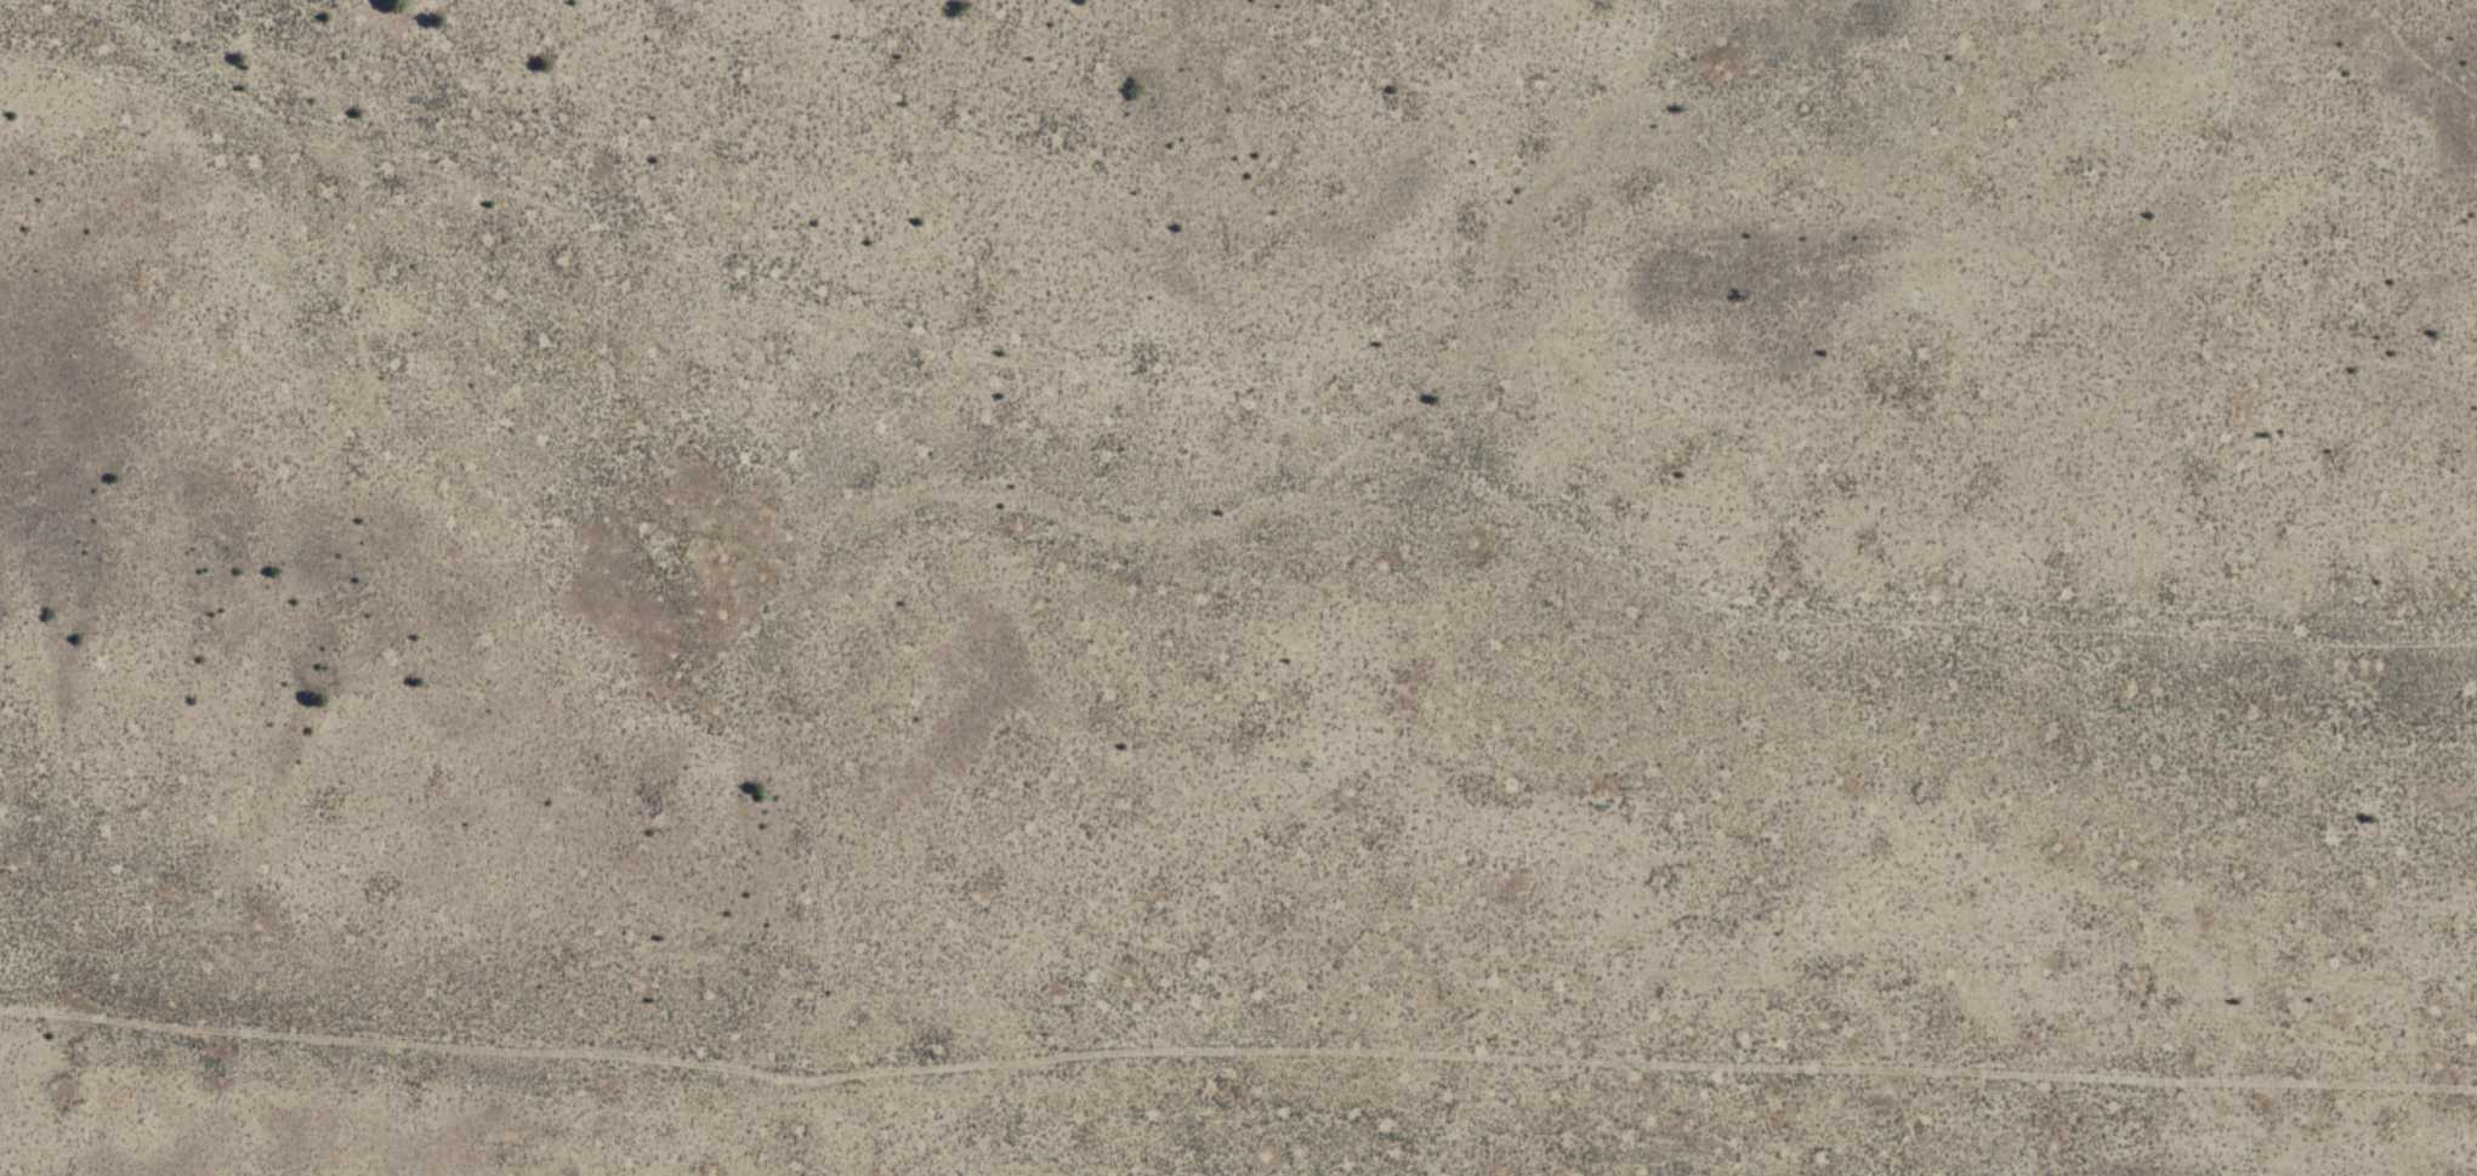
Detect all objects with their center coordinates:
road: (1238, 1058)

